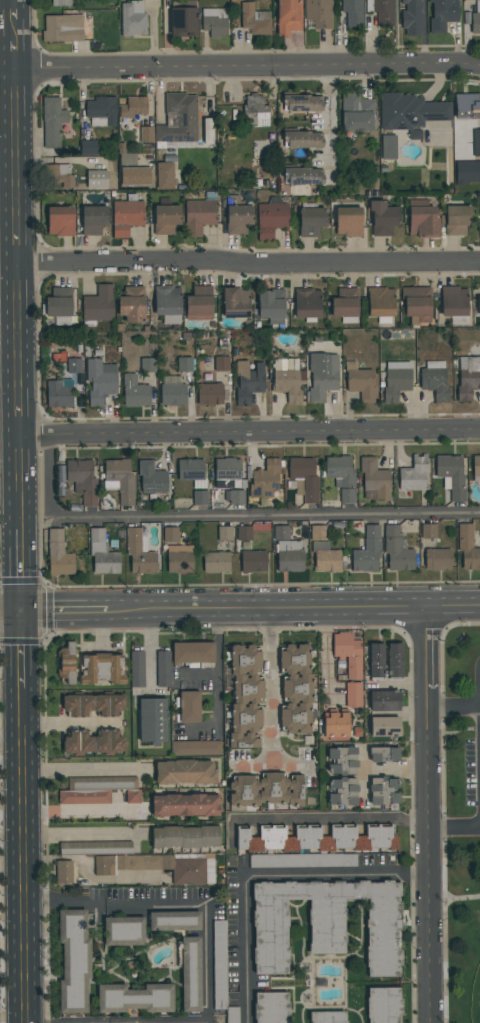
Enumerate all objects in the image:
building: (467, 0)
building: (62, 3)
road: (14, 10)
building: (382, 11)
building: (353, 12)
building: (319, 13)
building: (442, 14)
building: (289, 16)
building: (414, 18)
building: (133, 19)
building: (255, 20)
building: (183, 22)
building: (215, 22)
building: (475, 23)
building: (63, 28)
road: (14, 32)
road: (15, 57)
road: (248, 68)
building: (302, 103)
building: (134, 107)
building: (467, 107)
road: (8, 108)
building: (256, 110)
building: (101, 112)
building: (356, 113)
building: (411, 113)
building: (179, 119)
building: (52, 122)
road: (328, 123)
building: (146, 134)
building: (303, 140)
building: (476, 143)
road: (16, 145)
building: (388, 147)
building: (89, 148)
building: (467, 172)
building: (60, 175)
building: (164, 176)
building: (303, 176)
building: (97, 179)
building: (198, 216)
building: (271, 218)
building: (166, 219)
building: (238, 219)
building: (383, 219)
building: (93, 220)
building: (457, 220)
building: (60, 221)
building: (311, 221)
building: (423, 221)
building: (348, 222)
road: (17, 242)
road: (248, 264)
building: (454, 301)
building: (59, 302)
building: (236, 302)
building: (380, 302)
building: (199, 303)
building: (307, 303)
building: (345, 303)
building: (131, 304)
building: (167, 304)
building: (99, 305)
building: (417, 305)
building: (478, 305)
building: (272, 306)
road: (18, 326)
building: (221, 363)
building: (184, 364)
building: (148, 365)
building: (74, 366)
building: (322, 376)
building: (468, 377)
building: (287, 379)
building: (396, 380)
building: (435, 380)
building: (100, 381)
building: (248, 382)
building: (359, 382)
building: (172, 390)
building: (135, 392)
building: (58, 394)
building: (210, 394)
road: (19, 412)
road: (249, 434)
building: (476, 466)
building: (190, 470)
building: (227, 473)
building: (414, 474)
building: (451, 475)
building: (305, 476)
building: (341, 476)
building: (152, 478)
building: (82, 480)
building: (120, 480)
building: (265, 480)
building: (374, 481)
road: (20, 482)
building: (234, 496)
building: (200, 498)
road: (250, 518)
building: (428, 531)
building: (225, 533)
building: (317, 533)
building: (171, 534)
building: (244, 536)
building: (468, 547)
building: (397, 550)
building: (287, 551)
building: (368, 551)
building: (139, 552)
building: (102, 554)
building: (59, 555)
building: (179, 558)
building: (325, 558)
building: (437, 559)
building: (253, 561)
building: (216, 562)
road: (21, 570)
road: (294, 608)
road: (65, 611)
road: (10, 612)
road: (148, 649)
road: (21, 650)
building: (192, 652)
building: (376, 658)
building: (394, 658)
building: (66, 664)
building: (349, 664)
road: (217, 666)
building: (102, 667)
building: (136, 668)
building: (163, 668)
road: (198, 672)
building: (295, 687)
road: (274, 688)
building: (246, 695)
building: (384, 699)
building: (92, 704)
building: (189, 705)
road: (453, 710)
building: (152, 718)
road: (67, 723)
building: (335, 724)
building: (385, 725)
road: (460, 732)
road: (11, 739)
building: (94, 742)
building: (195, 746)
parking lot: (474, 751)
building: (384, 753)
road: (272, 767)
road: (80, 768)
road: (395, 770)
building: (184, 771)
building: (342, 776)
road: (364, 777)
building: (98, 789)
building: (265, 790)
building: (384, 790)
building: (185, 803)
road: (427, 814)
road: (316, 819)
park: (460, 820)
road: (454, 829)
road: (81, 834)
building: (185, 836)
building: (316, 838)
road: (23, 855)
building: (141, 861)
building: (262, 861)
building: (332, 861)
building: (65, 871)
road: (336, 874)
road: (82, 876)
road: (461, 897)
road: (114, 905)
building: (174, 919)
building: (326, 923)
building: (123, 931)
road: (244, 950)
building: (73, 960)
road: (205, 963)
building: (219, 965)
building: (190, 973)
building: (135, 998)
park: (476, 999)
building: (384, 1004)
building: (271, 1006)
building: (328, 1016)
road: (114, 1022)

